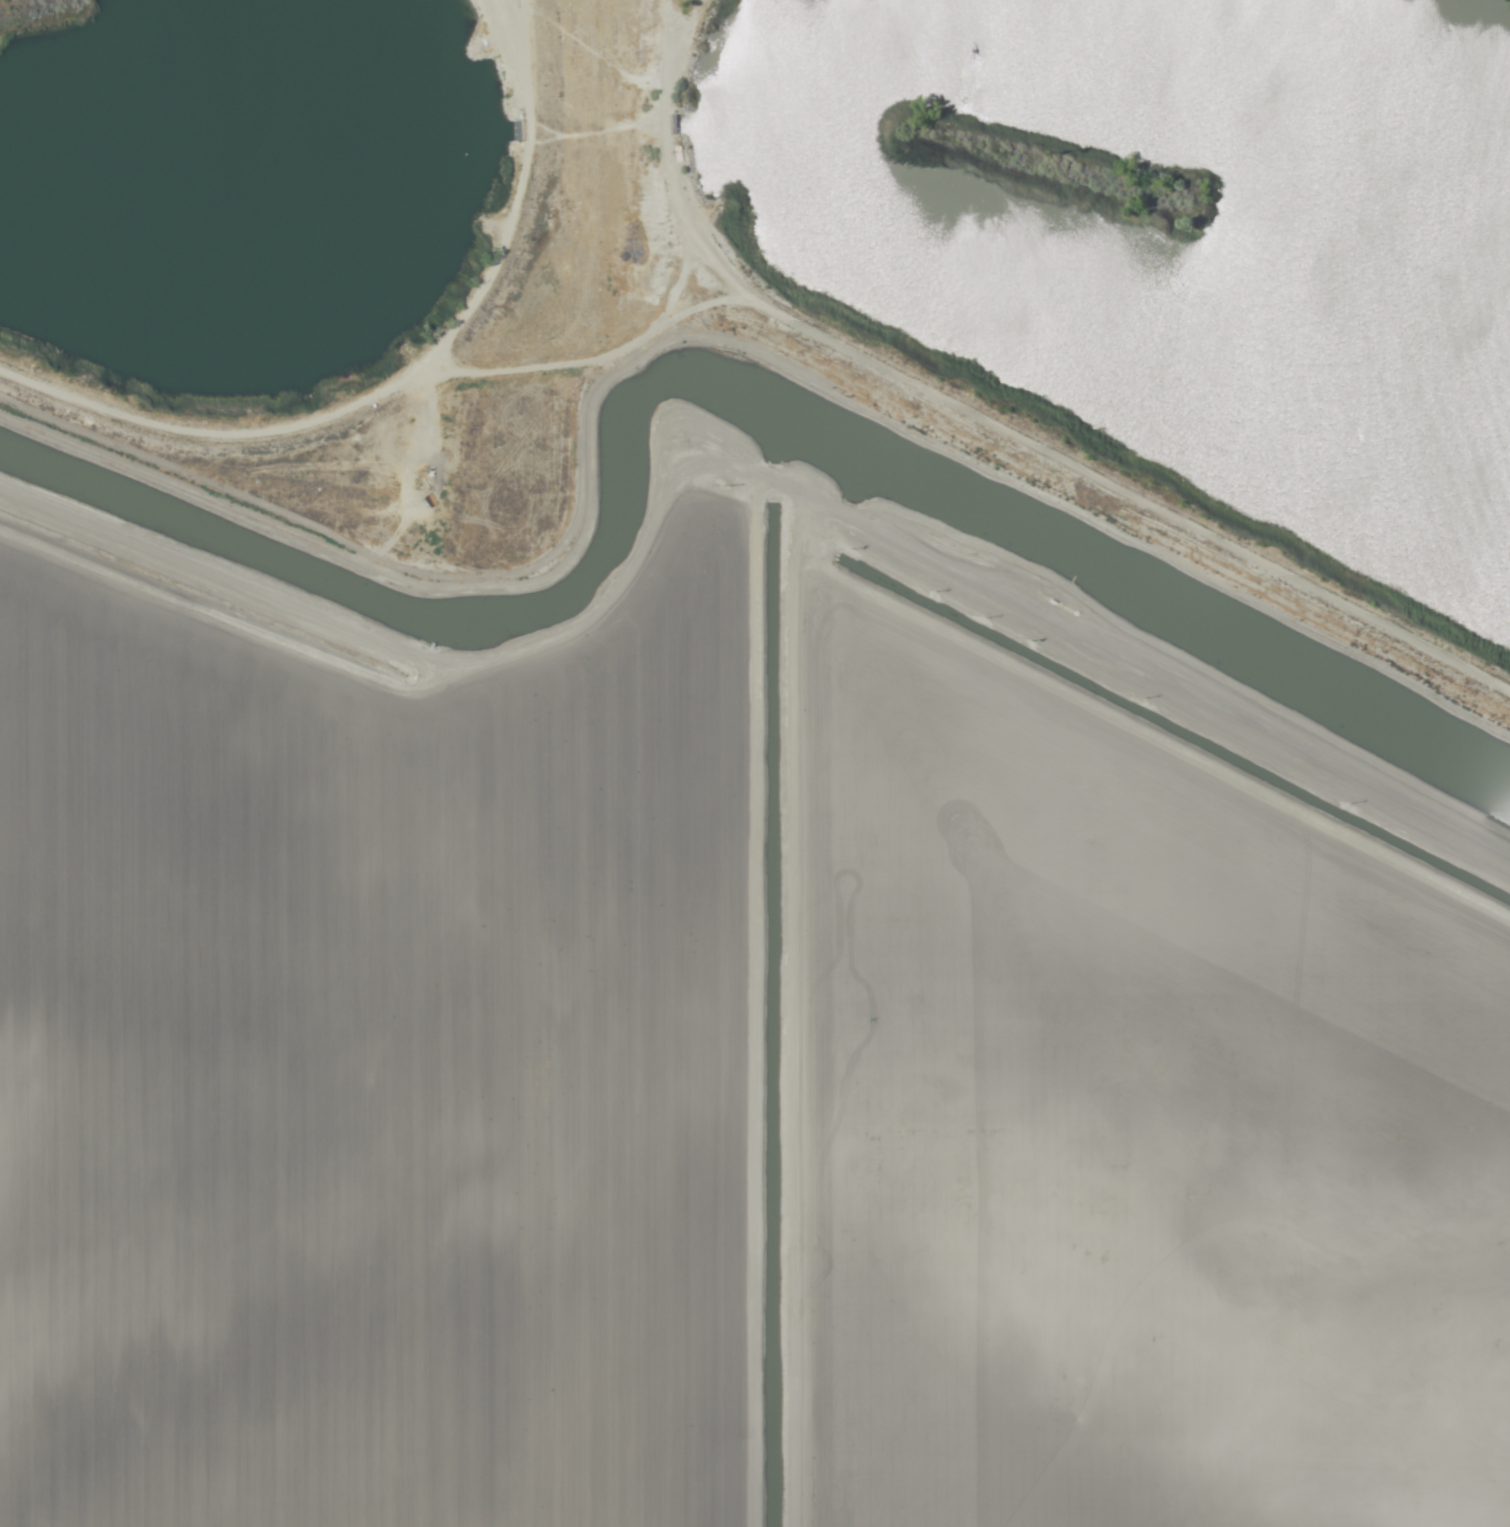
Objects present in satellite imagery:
crop: (729, 1040)
road: (829, 1078)

